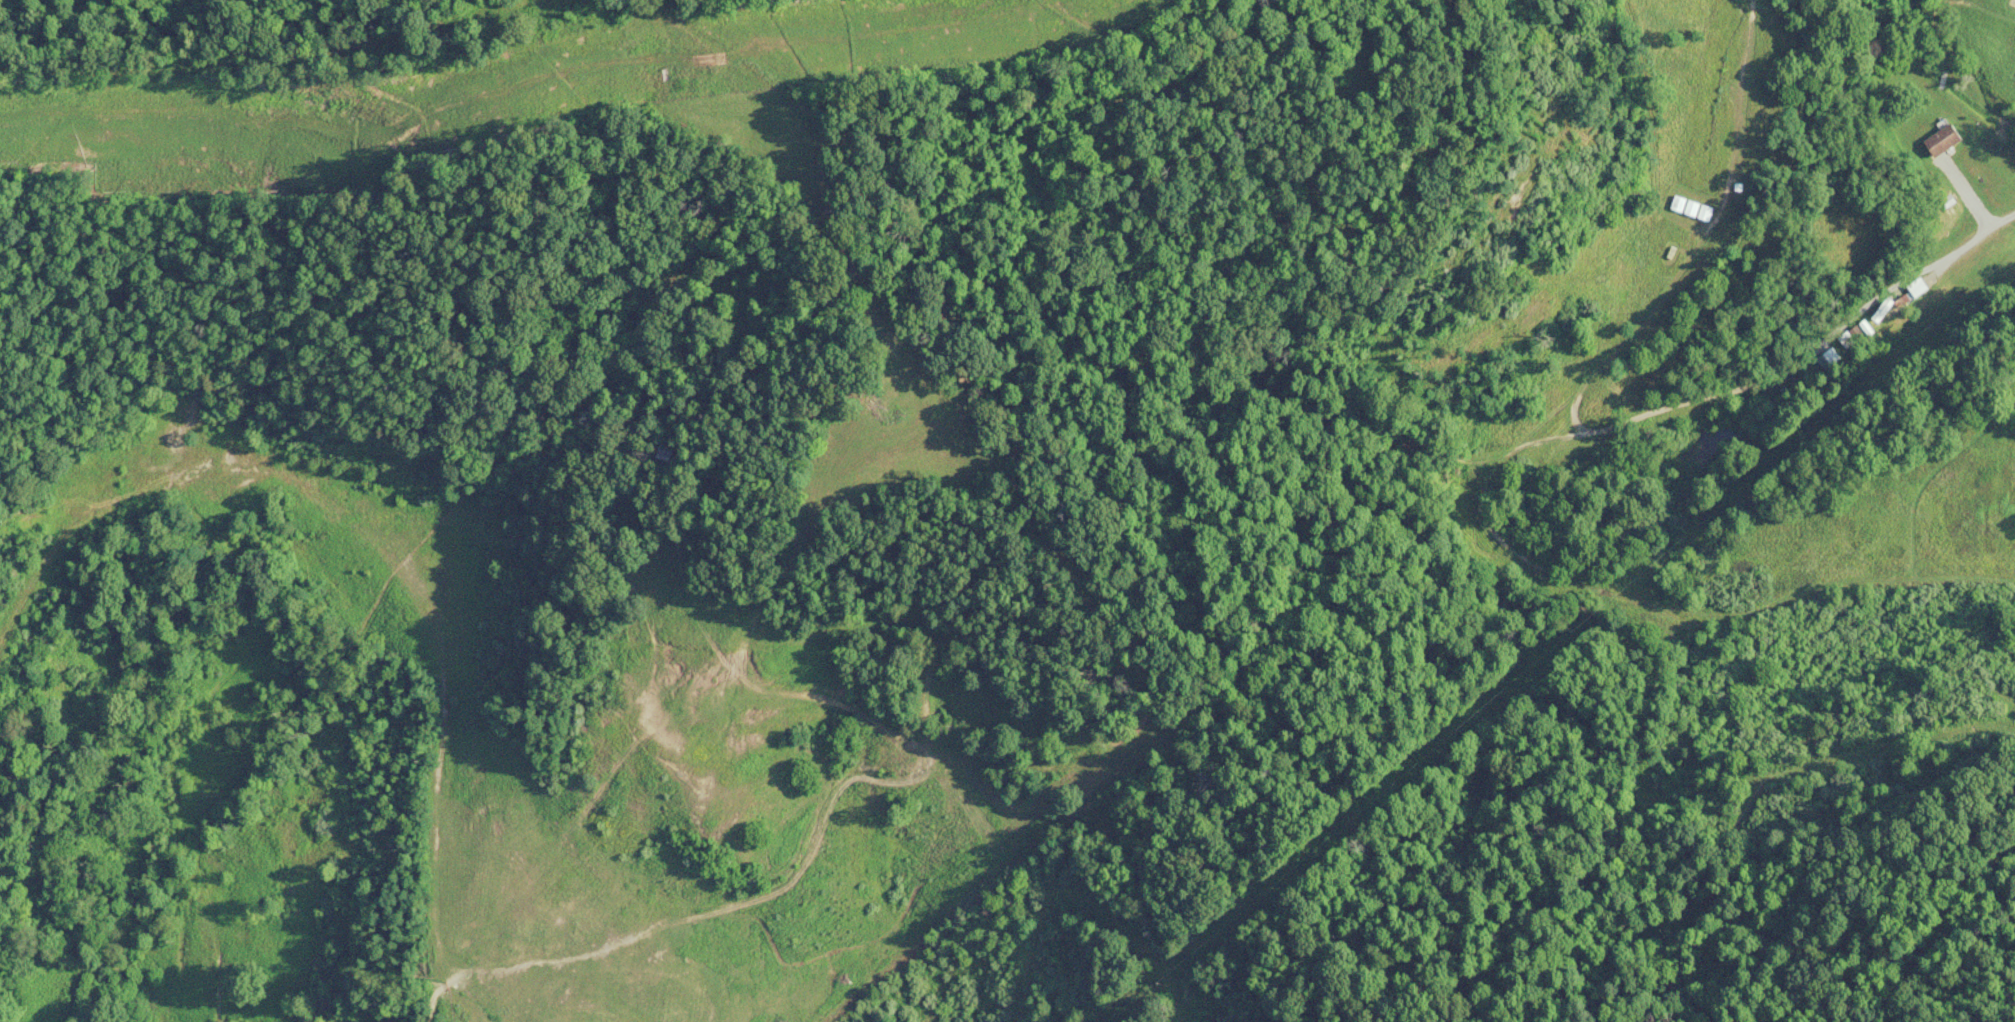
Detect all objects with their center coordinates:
building: (1896, 299)
building: (1828, 355)

